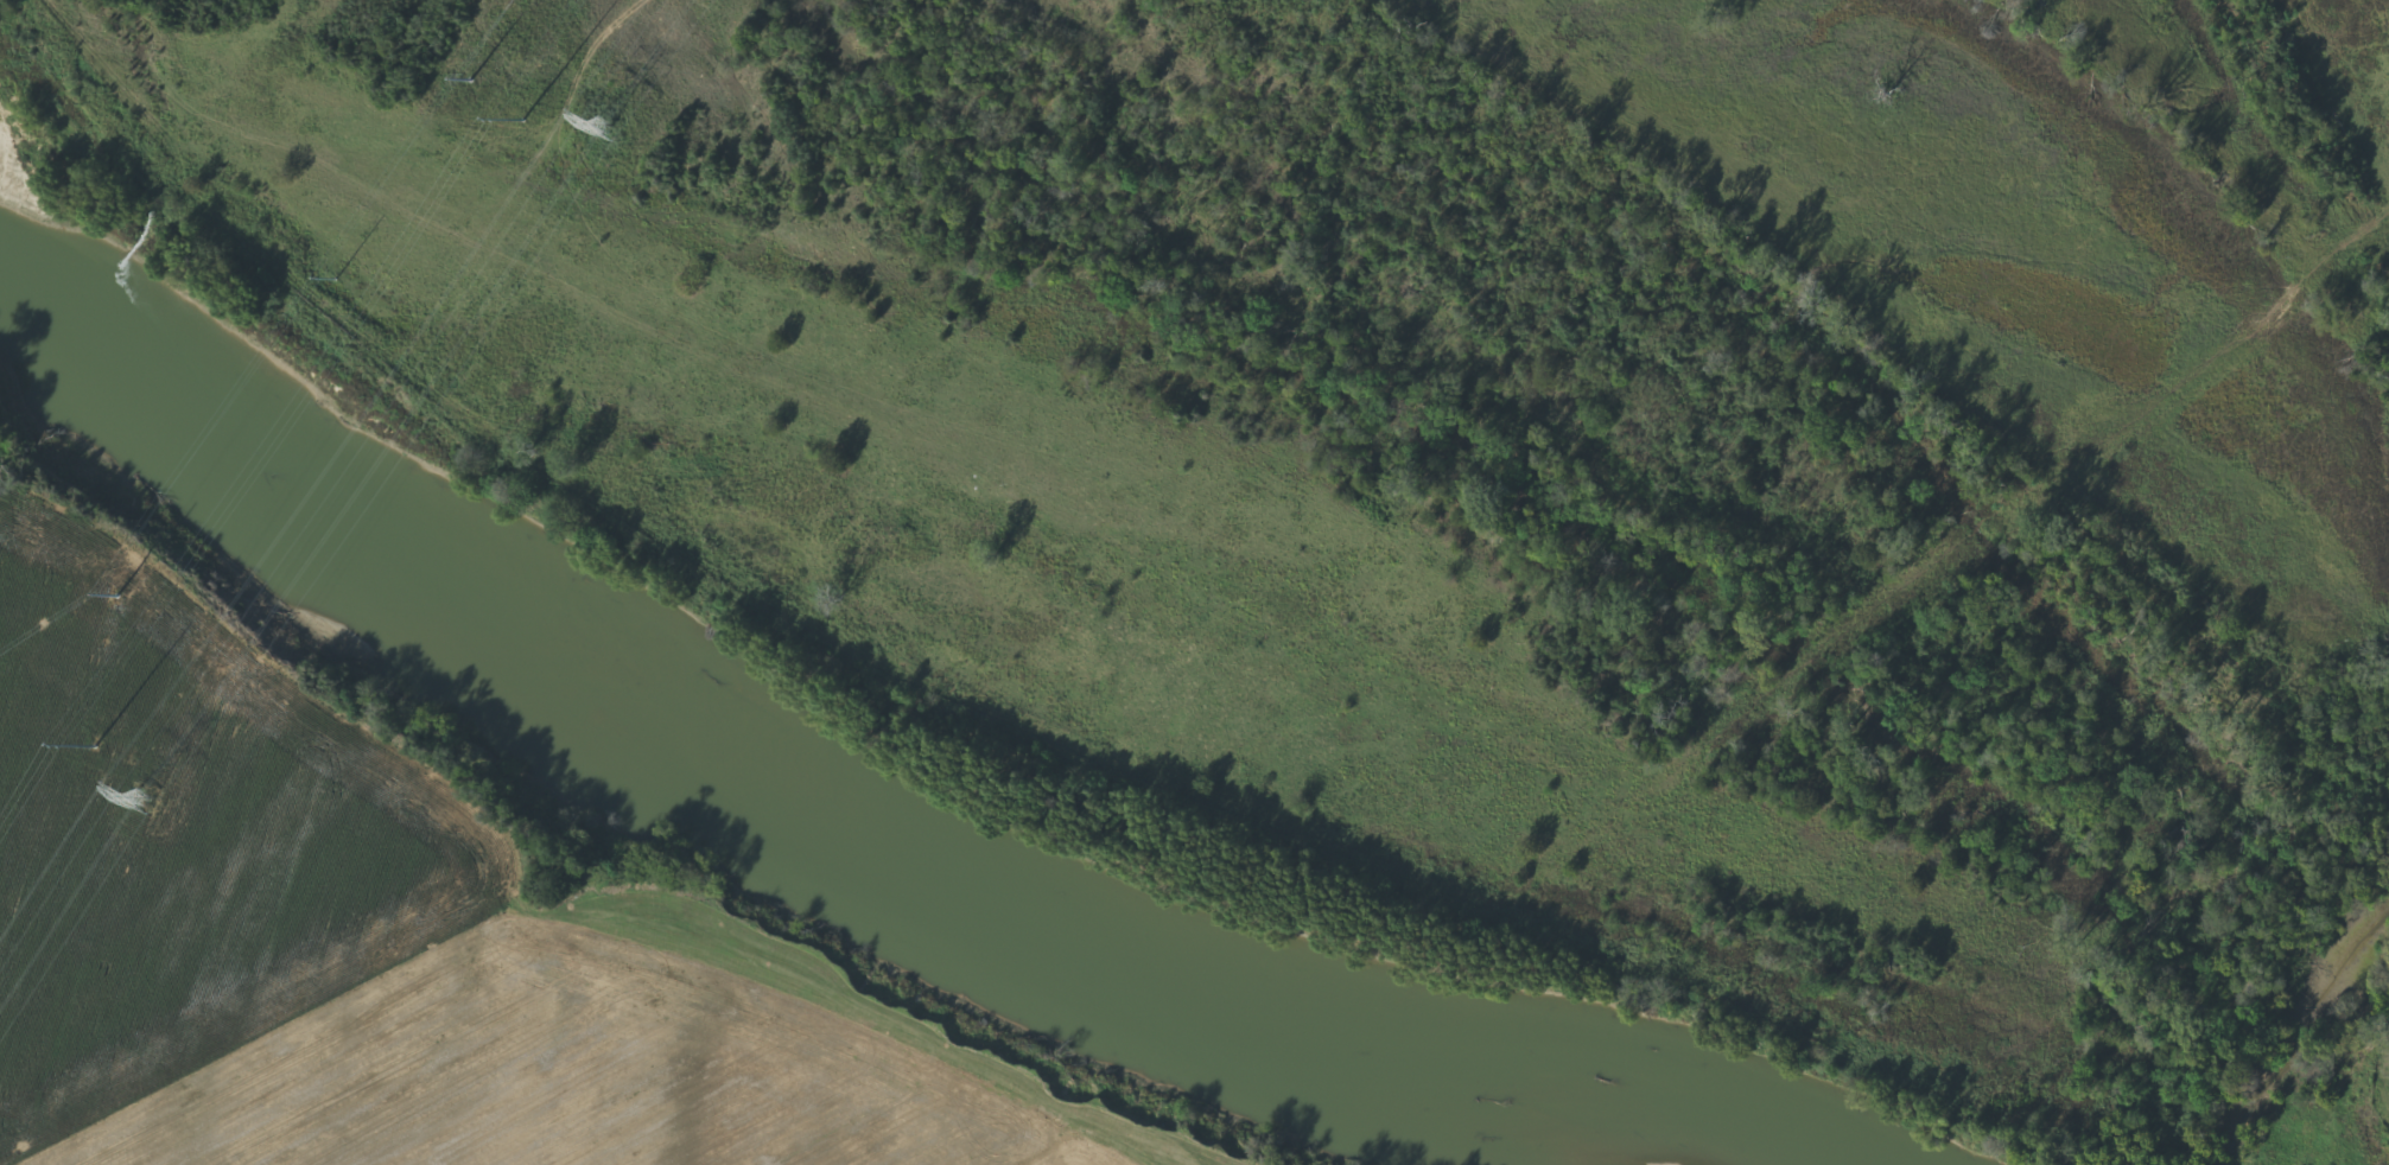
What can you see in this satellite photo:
power tower: (464, 87)
power tower: (522, 120)
power tower: (603, 127)
power tower: (36, 720)
power tower: (95, 744)
river: (780, 762)
power tower: (142, 797)

